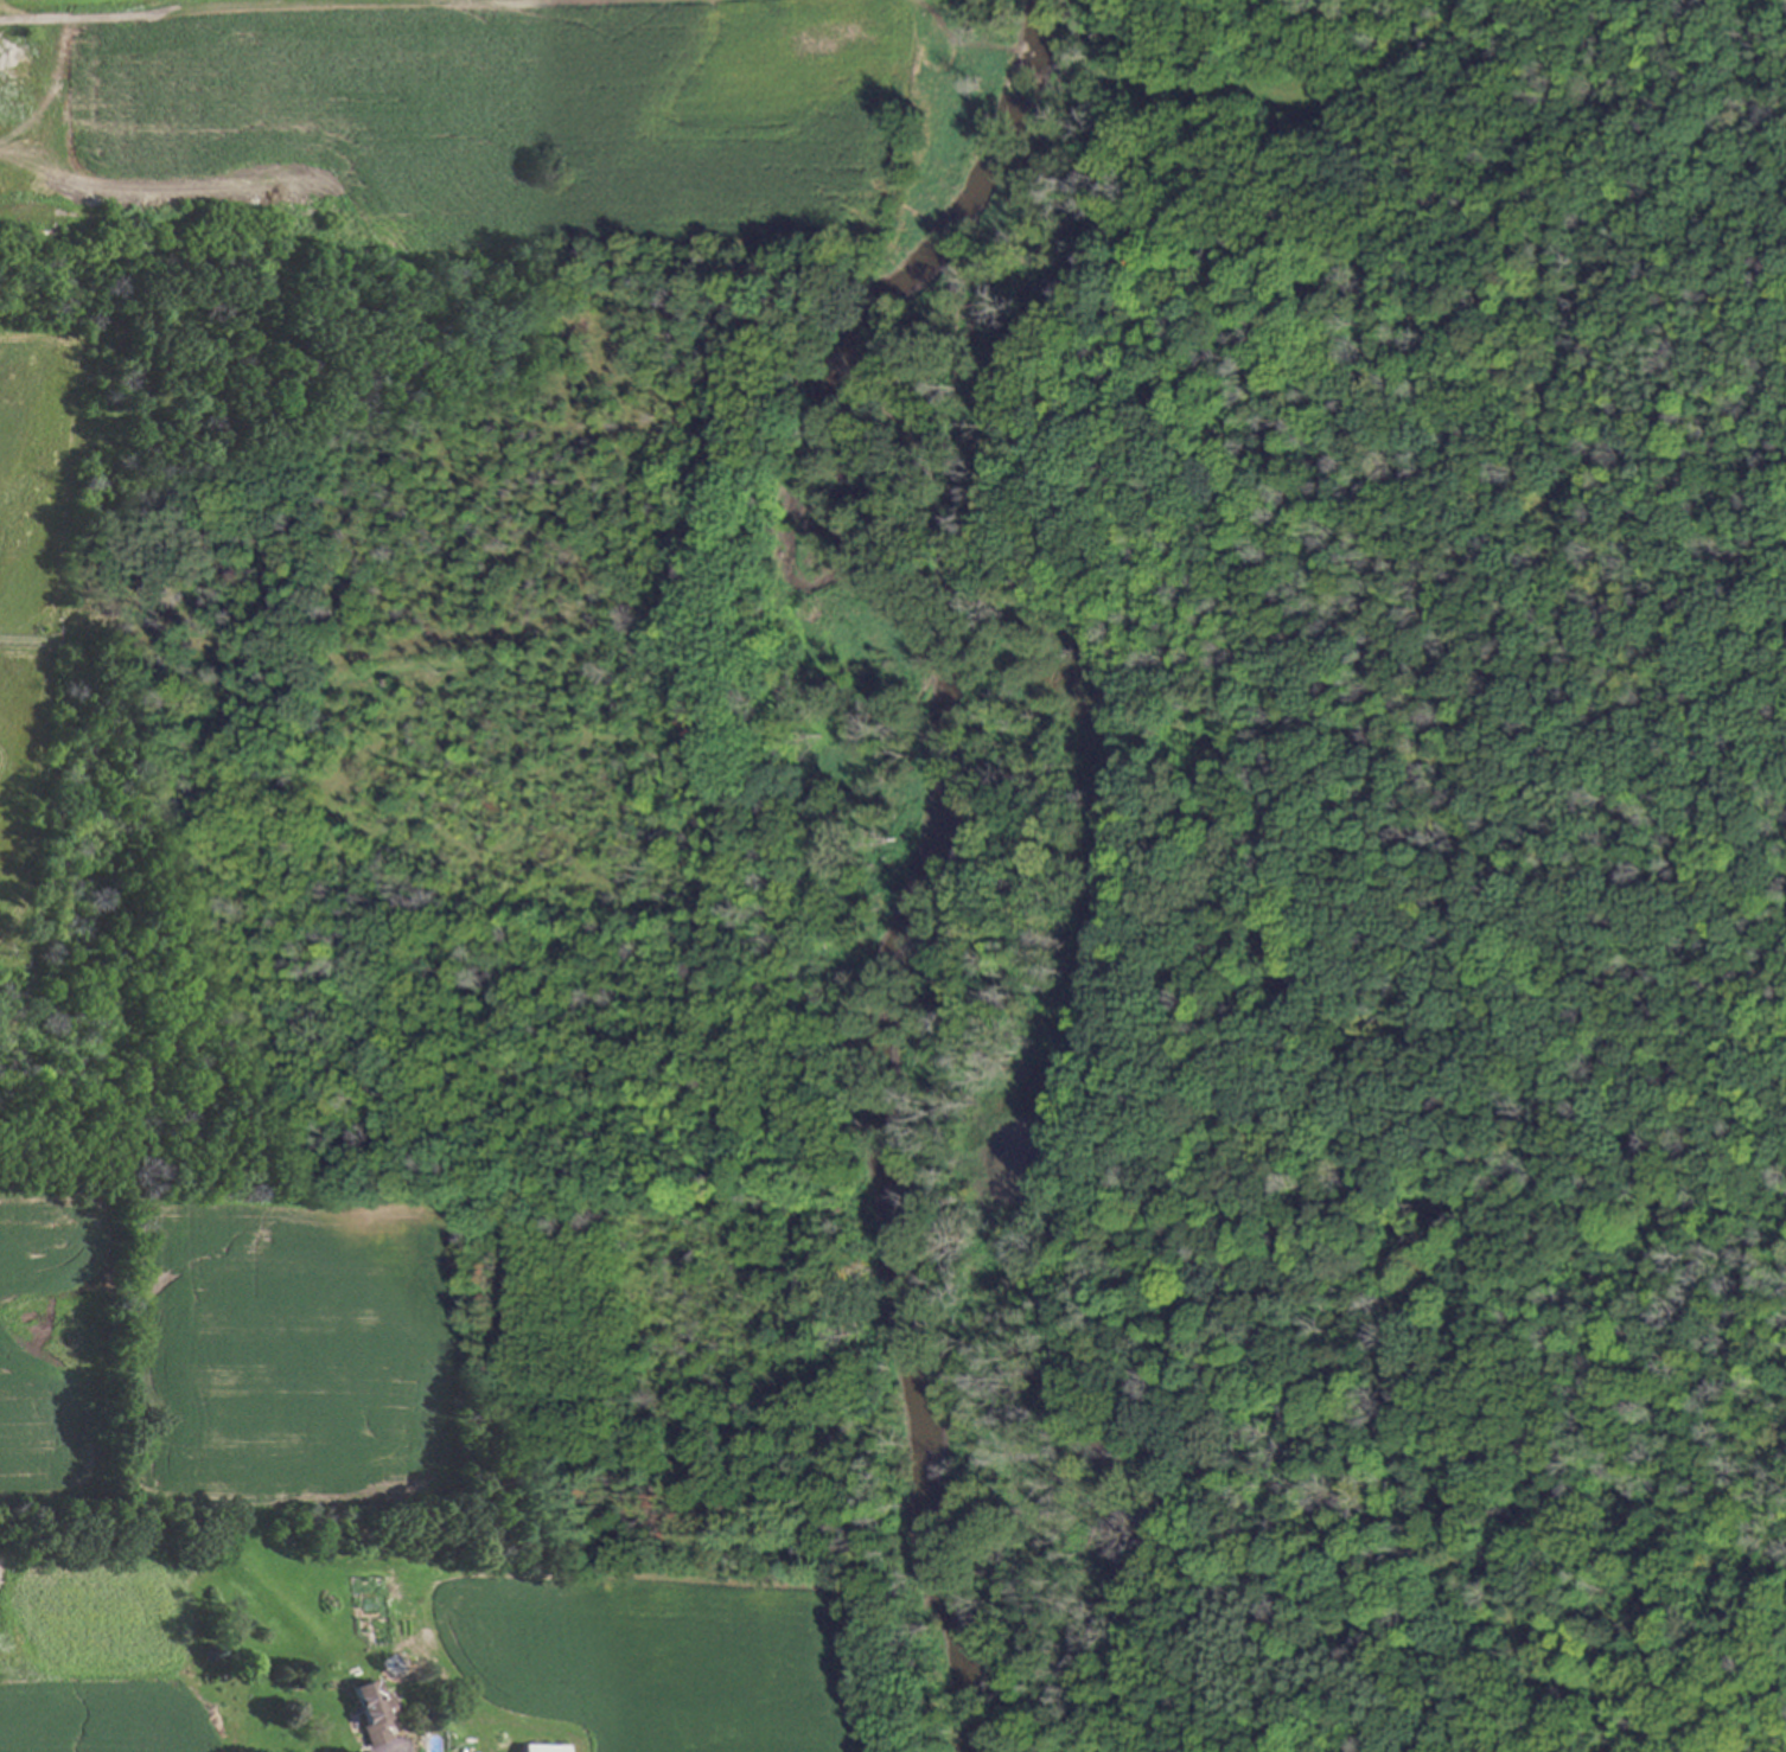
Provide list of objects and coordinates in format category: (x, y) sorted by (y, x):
park: (893, 8)
building: (369, 1709)

